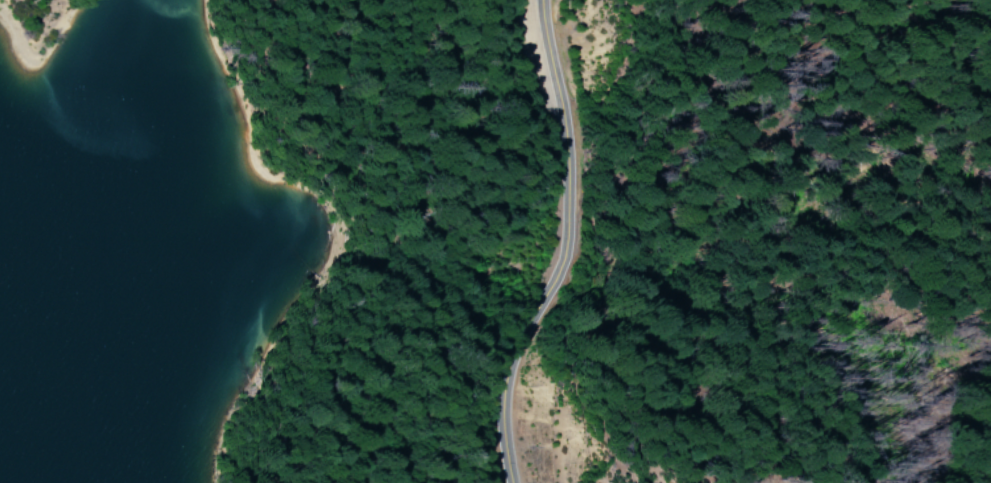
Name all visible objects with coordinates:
road: (368, 96)
road: (572, 244)

